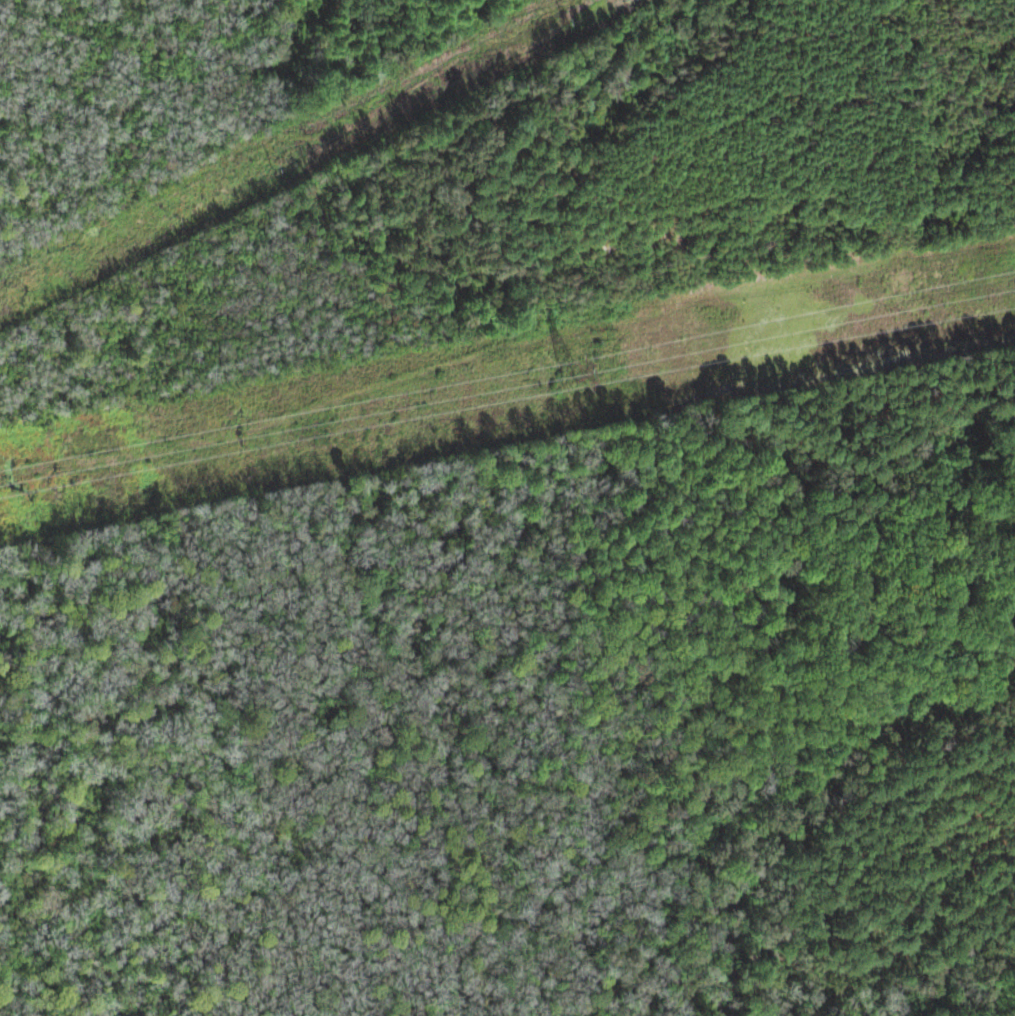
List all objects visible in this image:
power tower: (567, 370)

